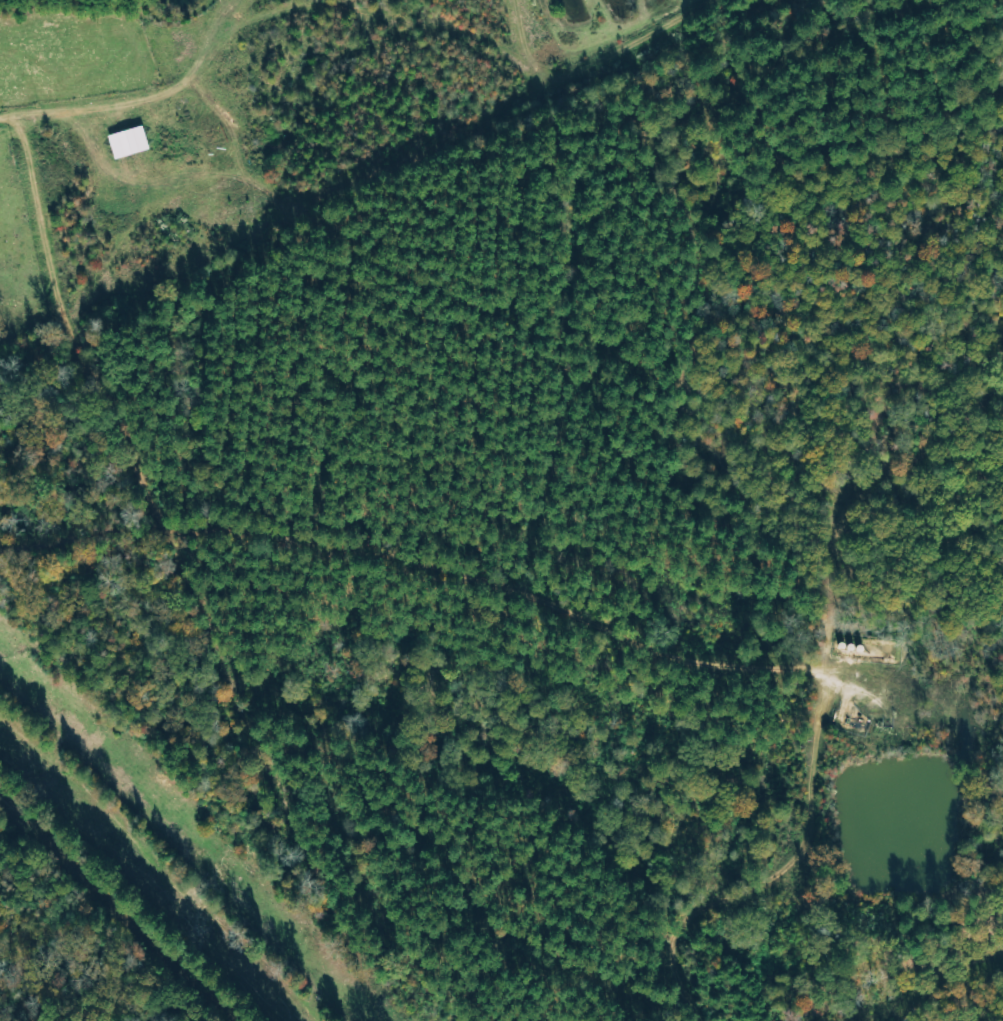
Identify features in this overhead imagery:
building: (133, 143)

